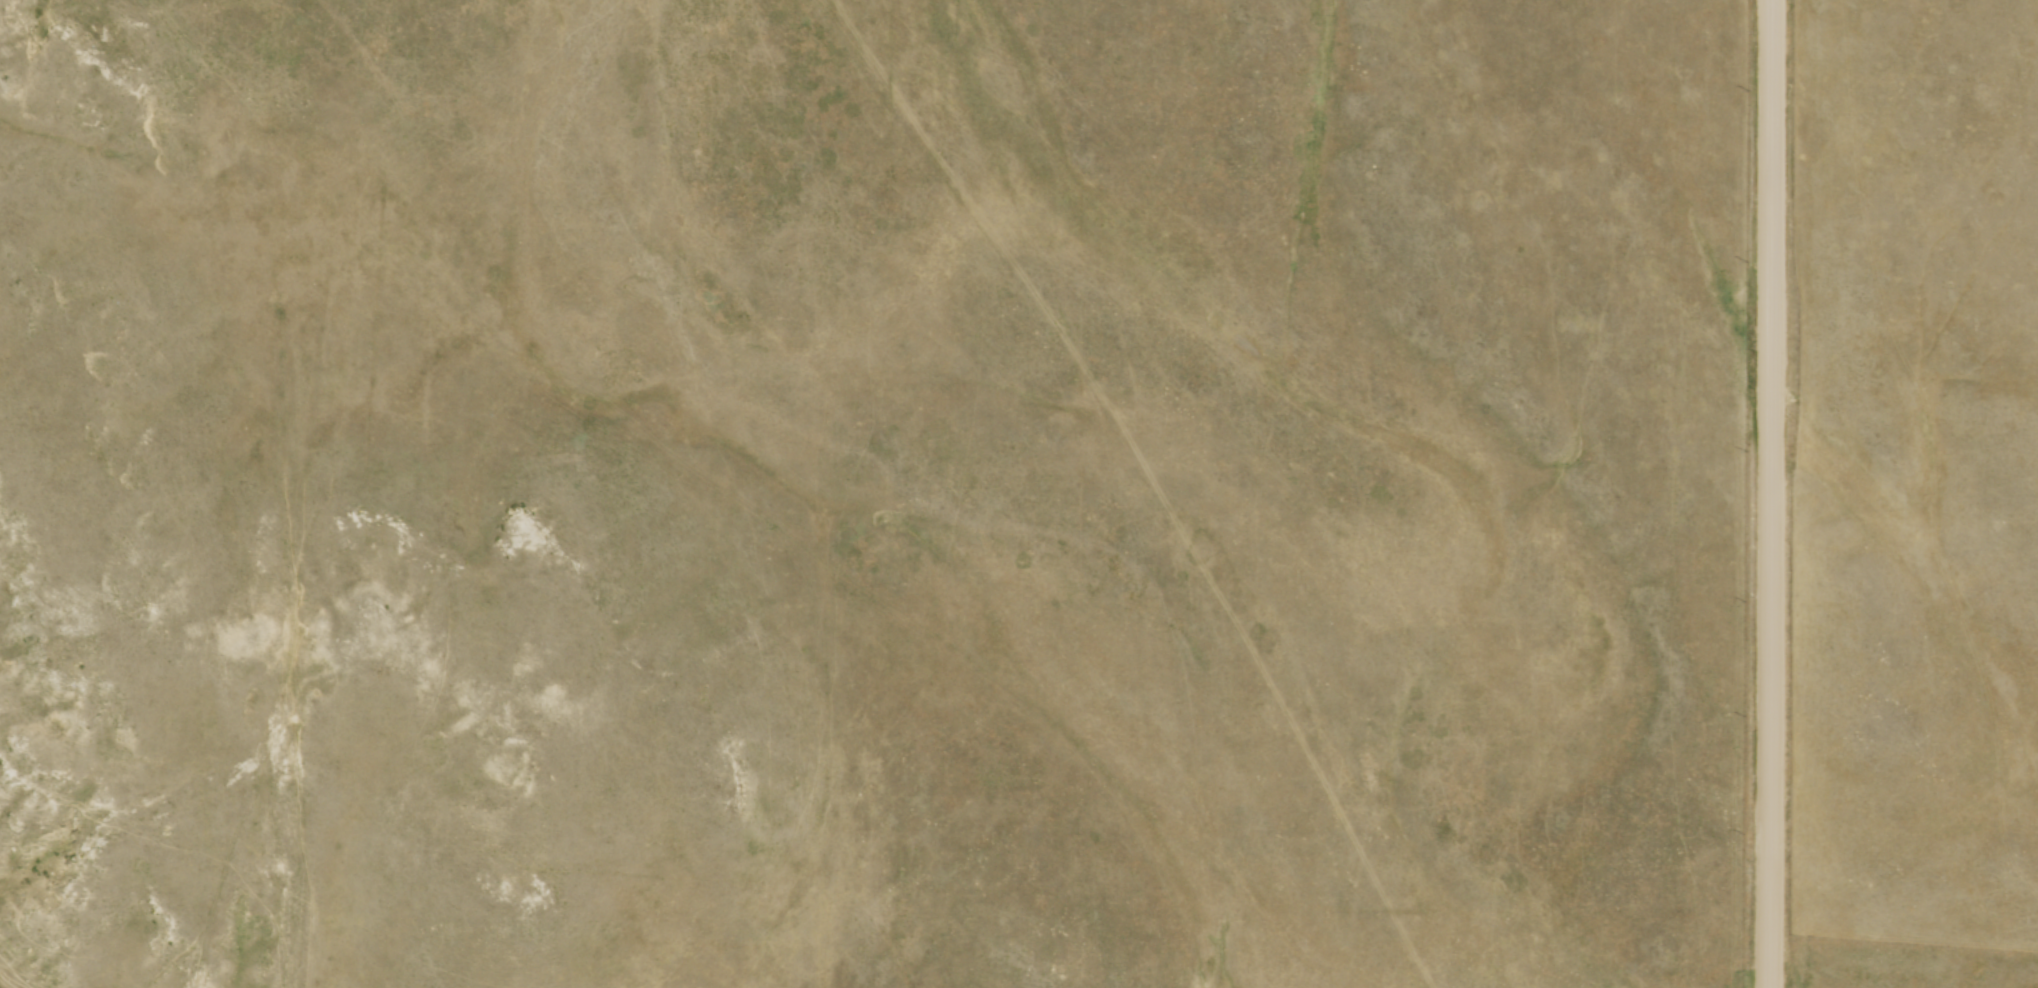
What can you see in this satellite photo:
road: (1775, 494)

